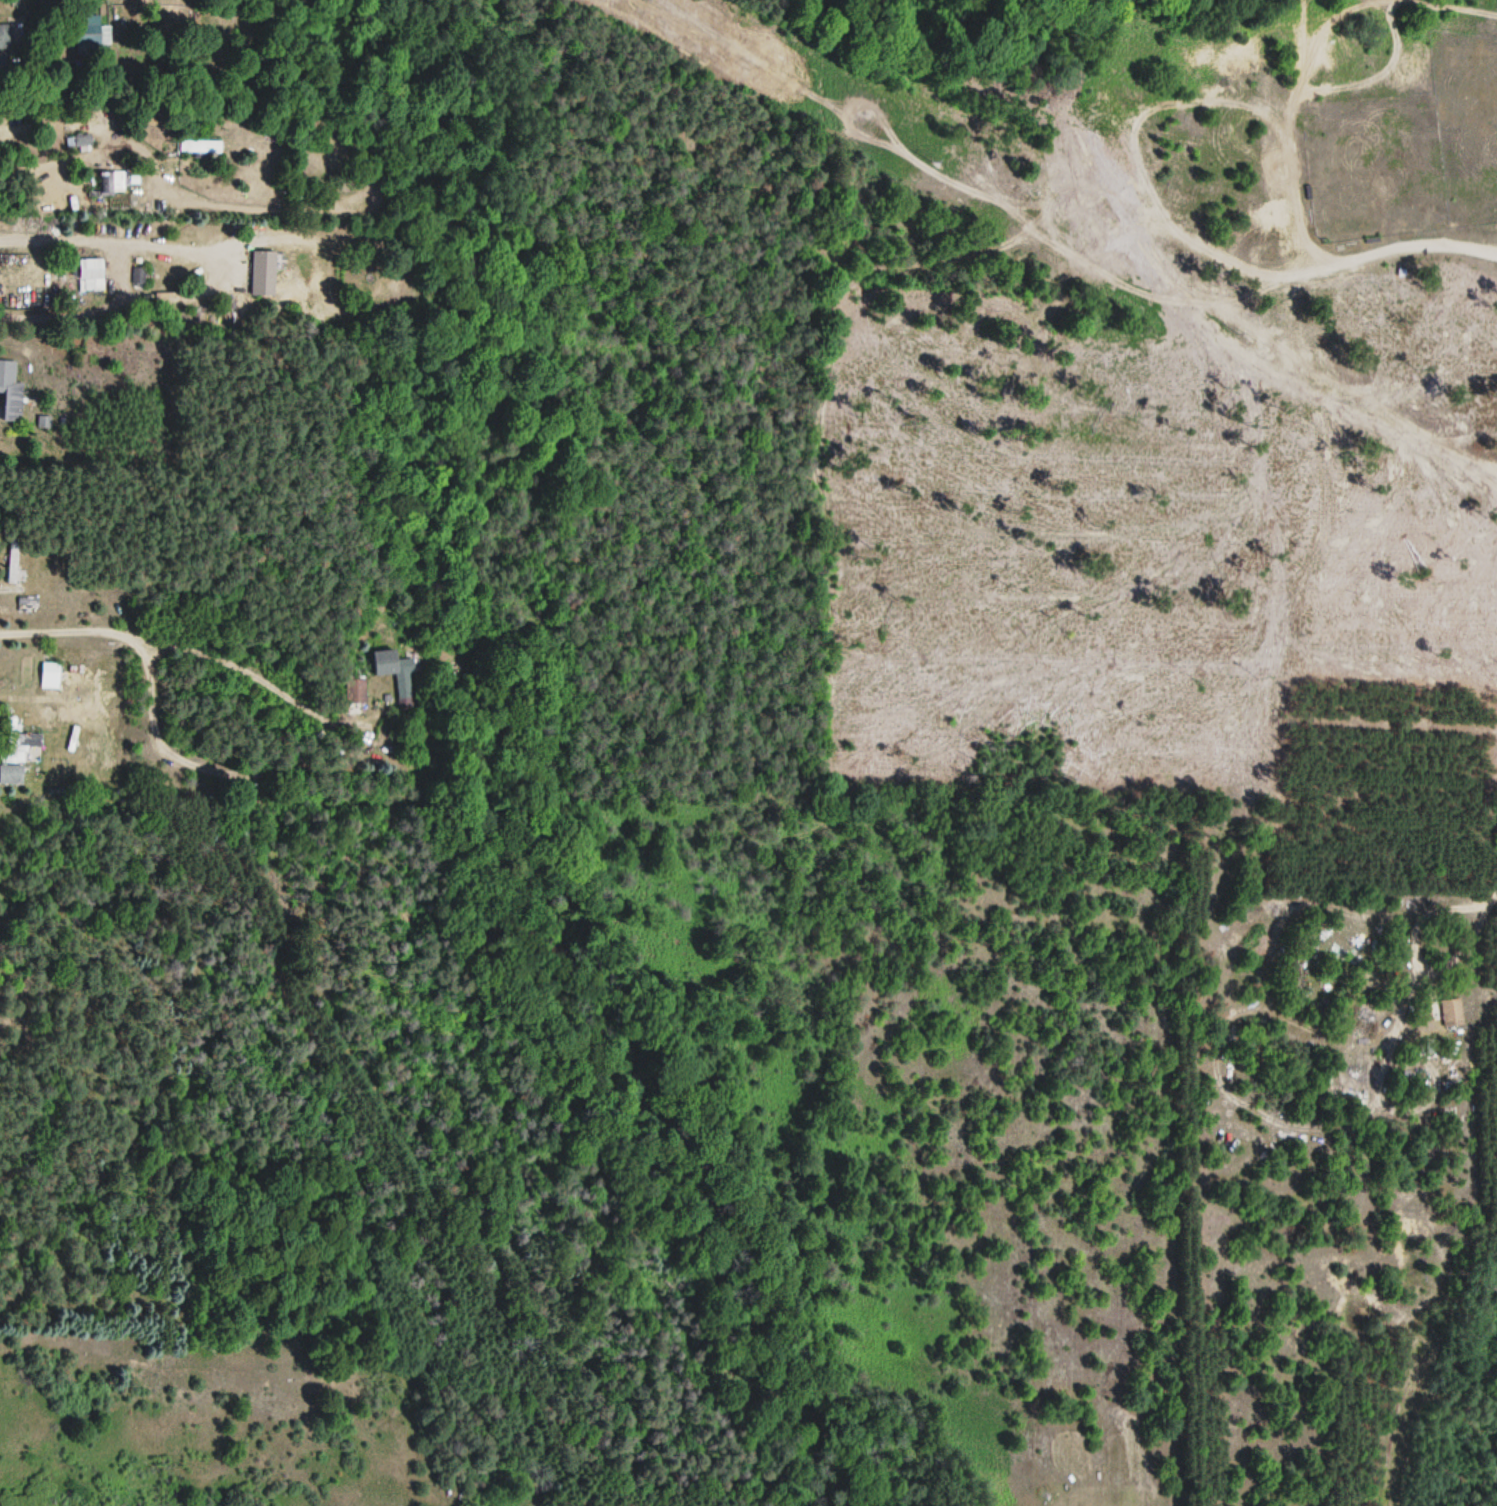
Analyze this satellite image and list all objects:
building: (96, 35)
building: (4, 36)
road: (1299, 42)
road: (750, 55)
road: (1306, 59)
building: (1, 63)
road: (845, 105)
park: (1467, 107)
road: (72, 125)
building: (82, 141)
building: (200, 146)
park: (1375, 164)
building: (111, 182)
road: (1190, 238)
road: (118, 244)
road: (992, 244)
building: (263, 273)
building: (90, 276)
road: (1248, 333)
building: (10, 392)
park: (1155, 412)
building: (12, 562)
building: (28, 603)
road: (67, 632)
building: (397, 676)
building: (50, 677)
building: (355, 691)
building: (15, 757)
road: (291, 760)
building: (1451, 1014)

